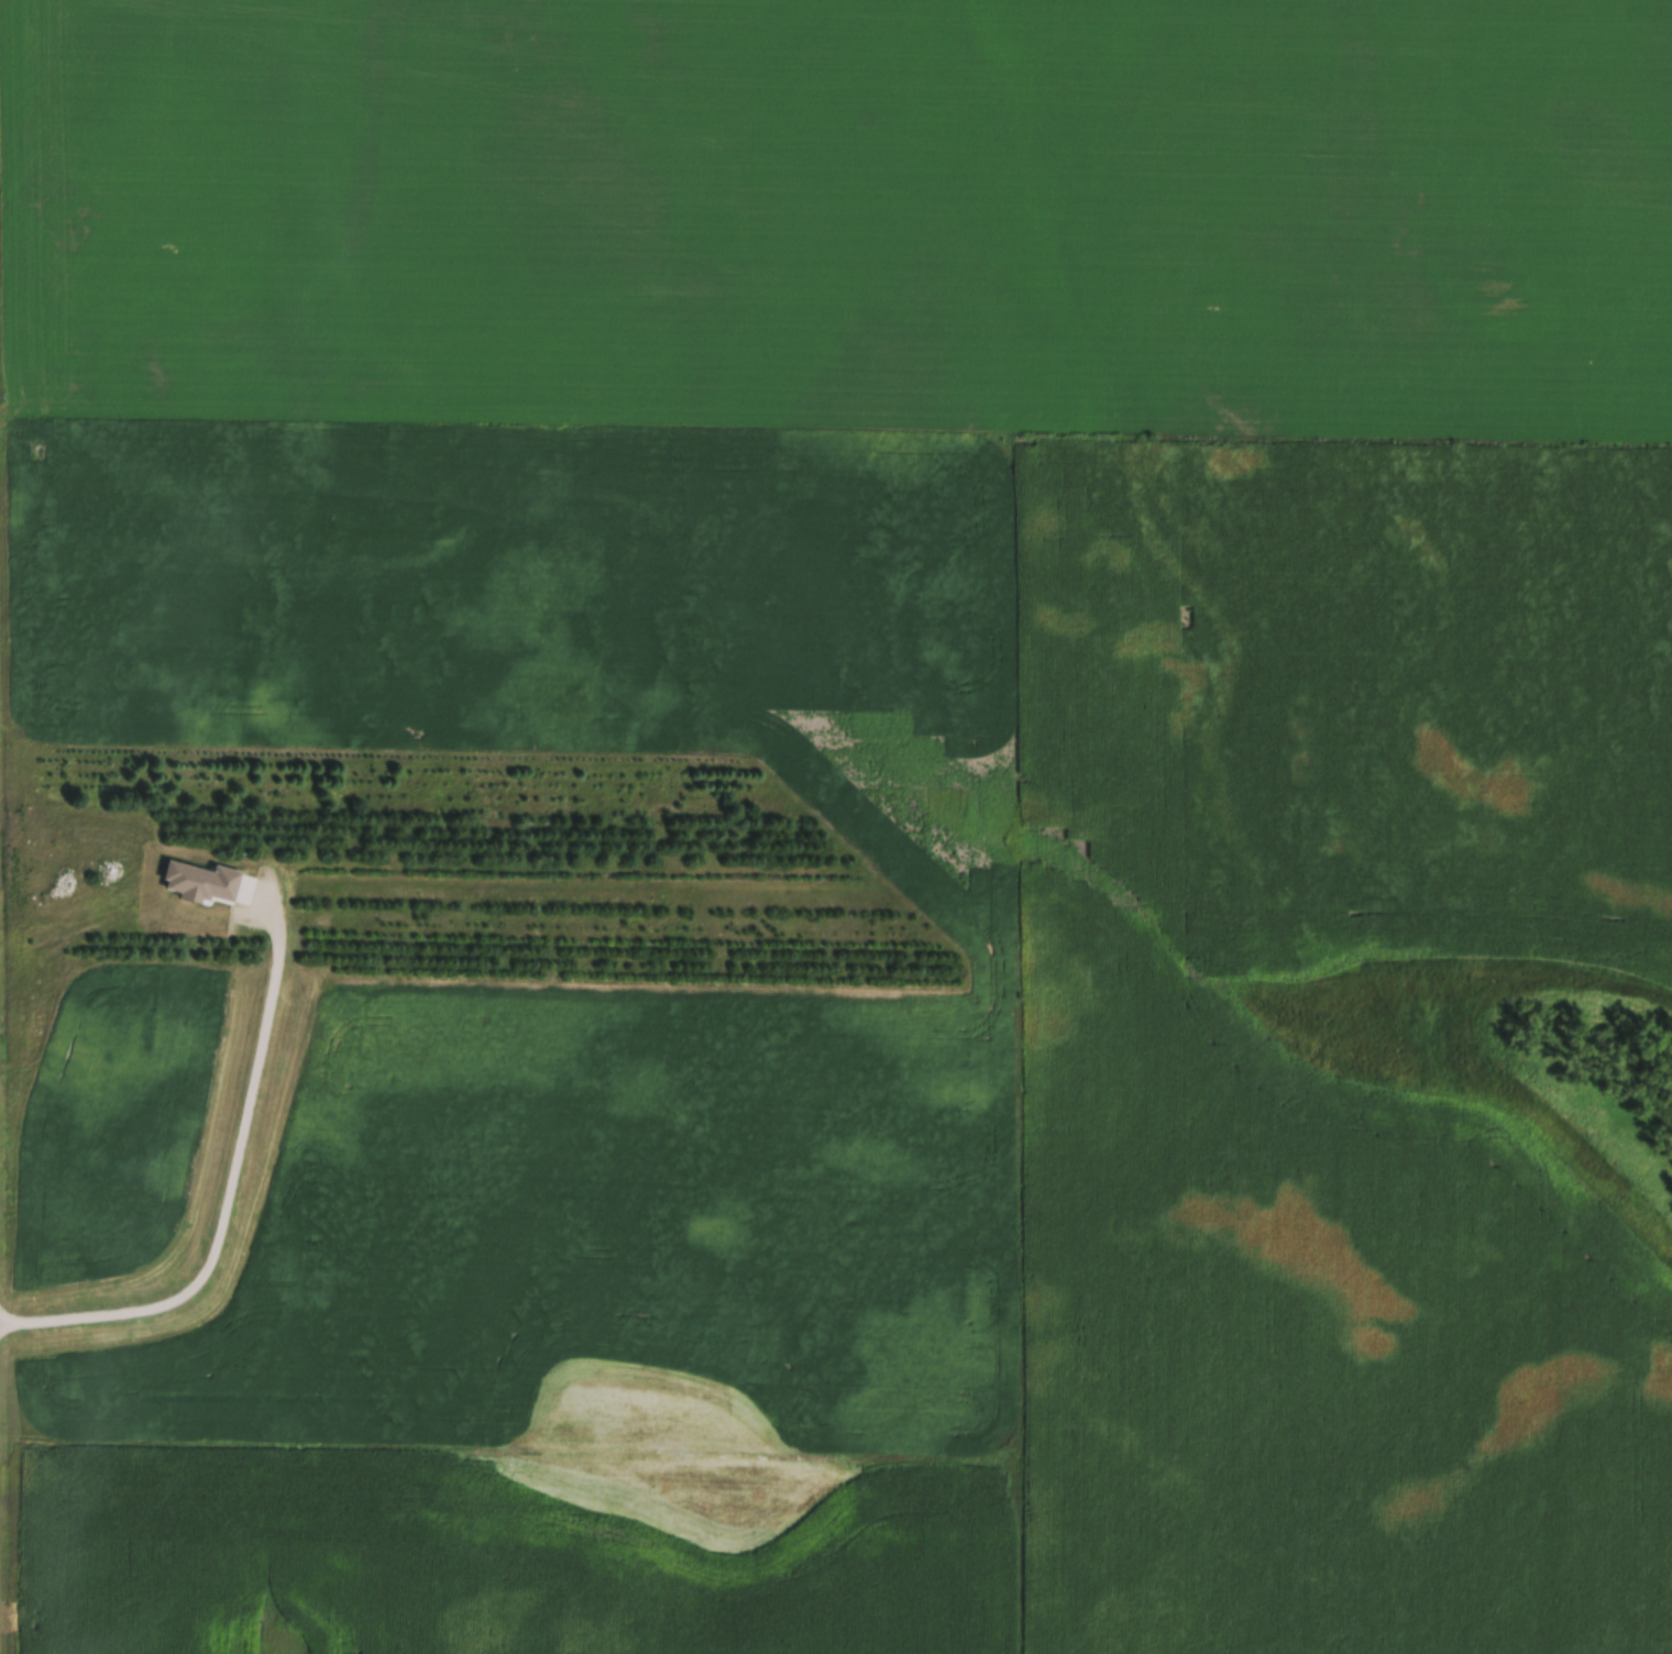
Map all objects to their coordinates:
road: (224, 1179)

